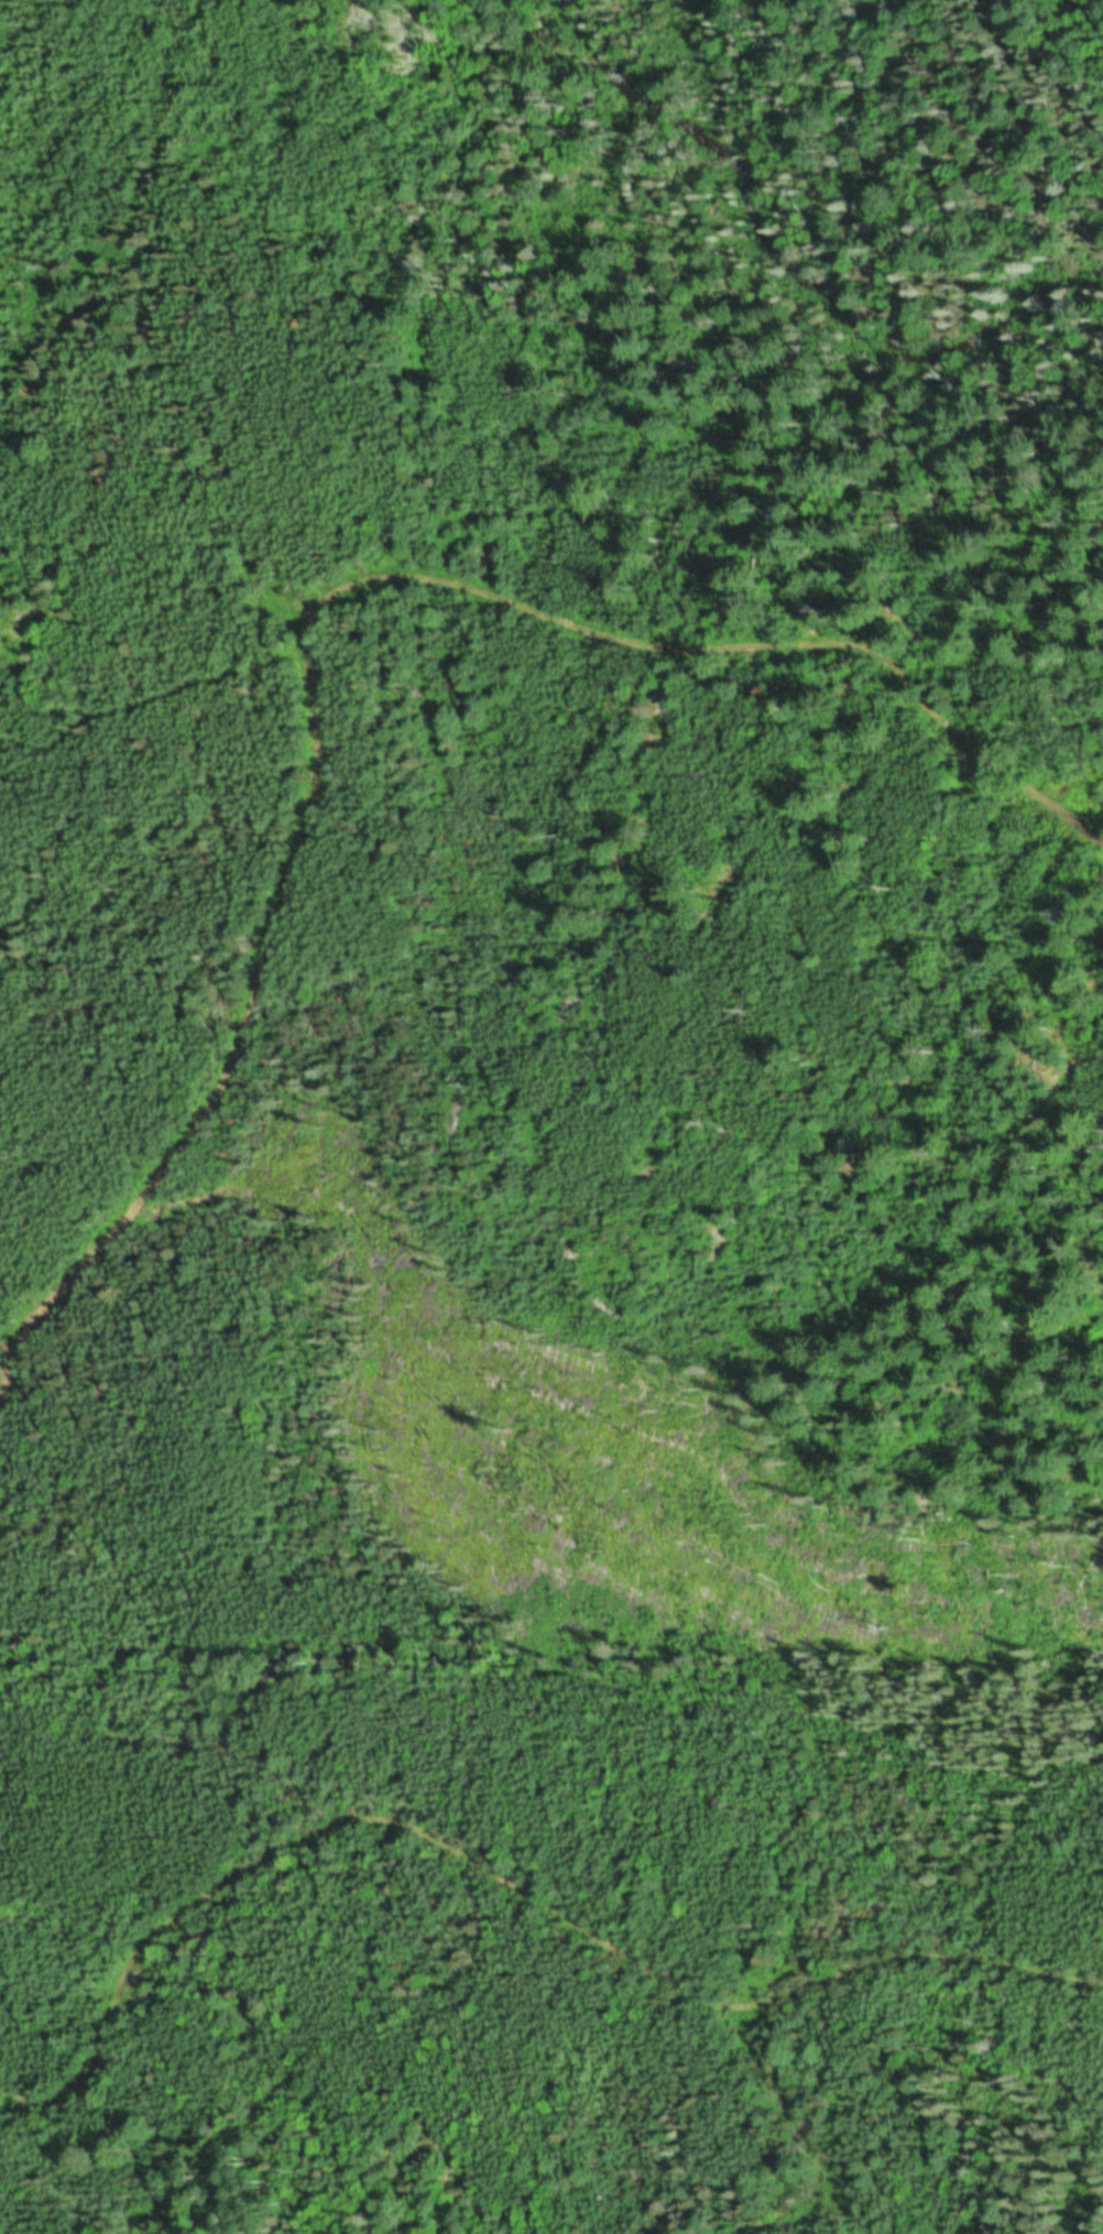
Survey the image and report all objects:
road: (332, 1846)
road: (925, 1955)

